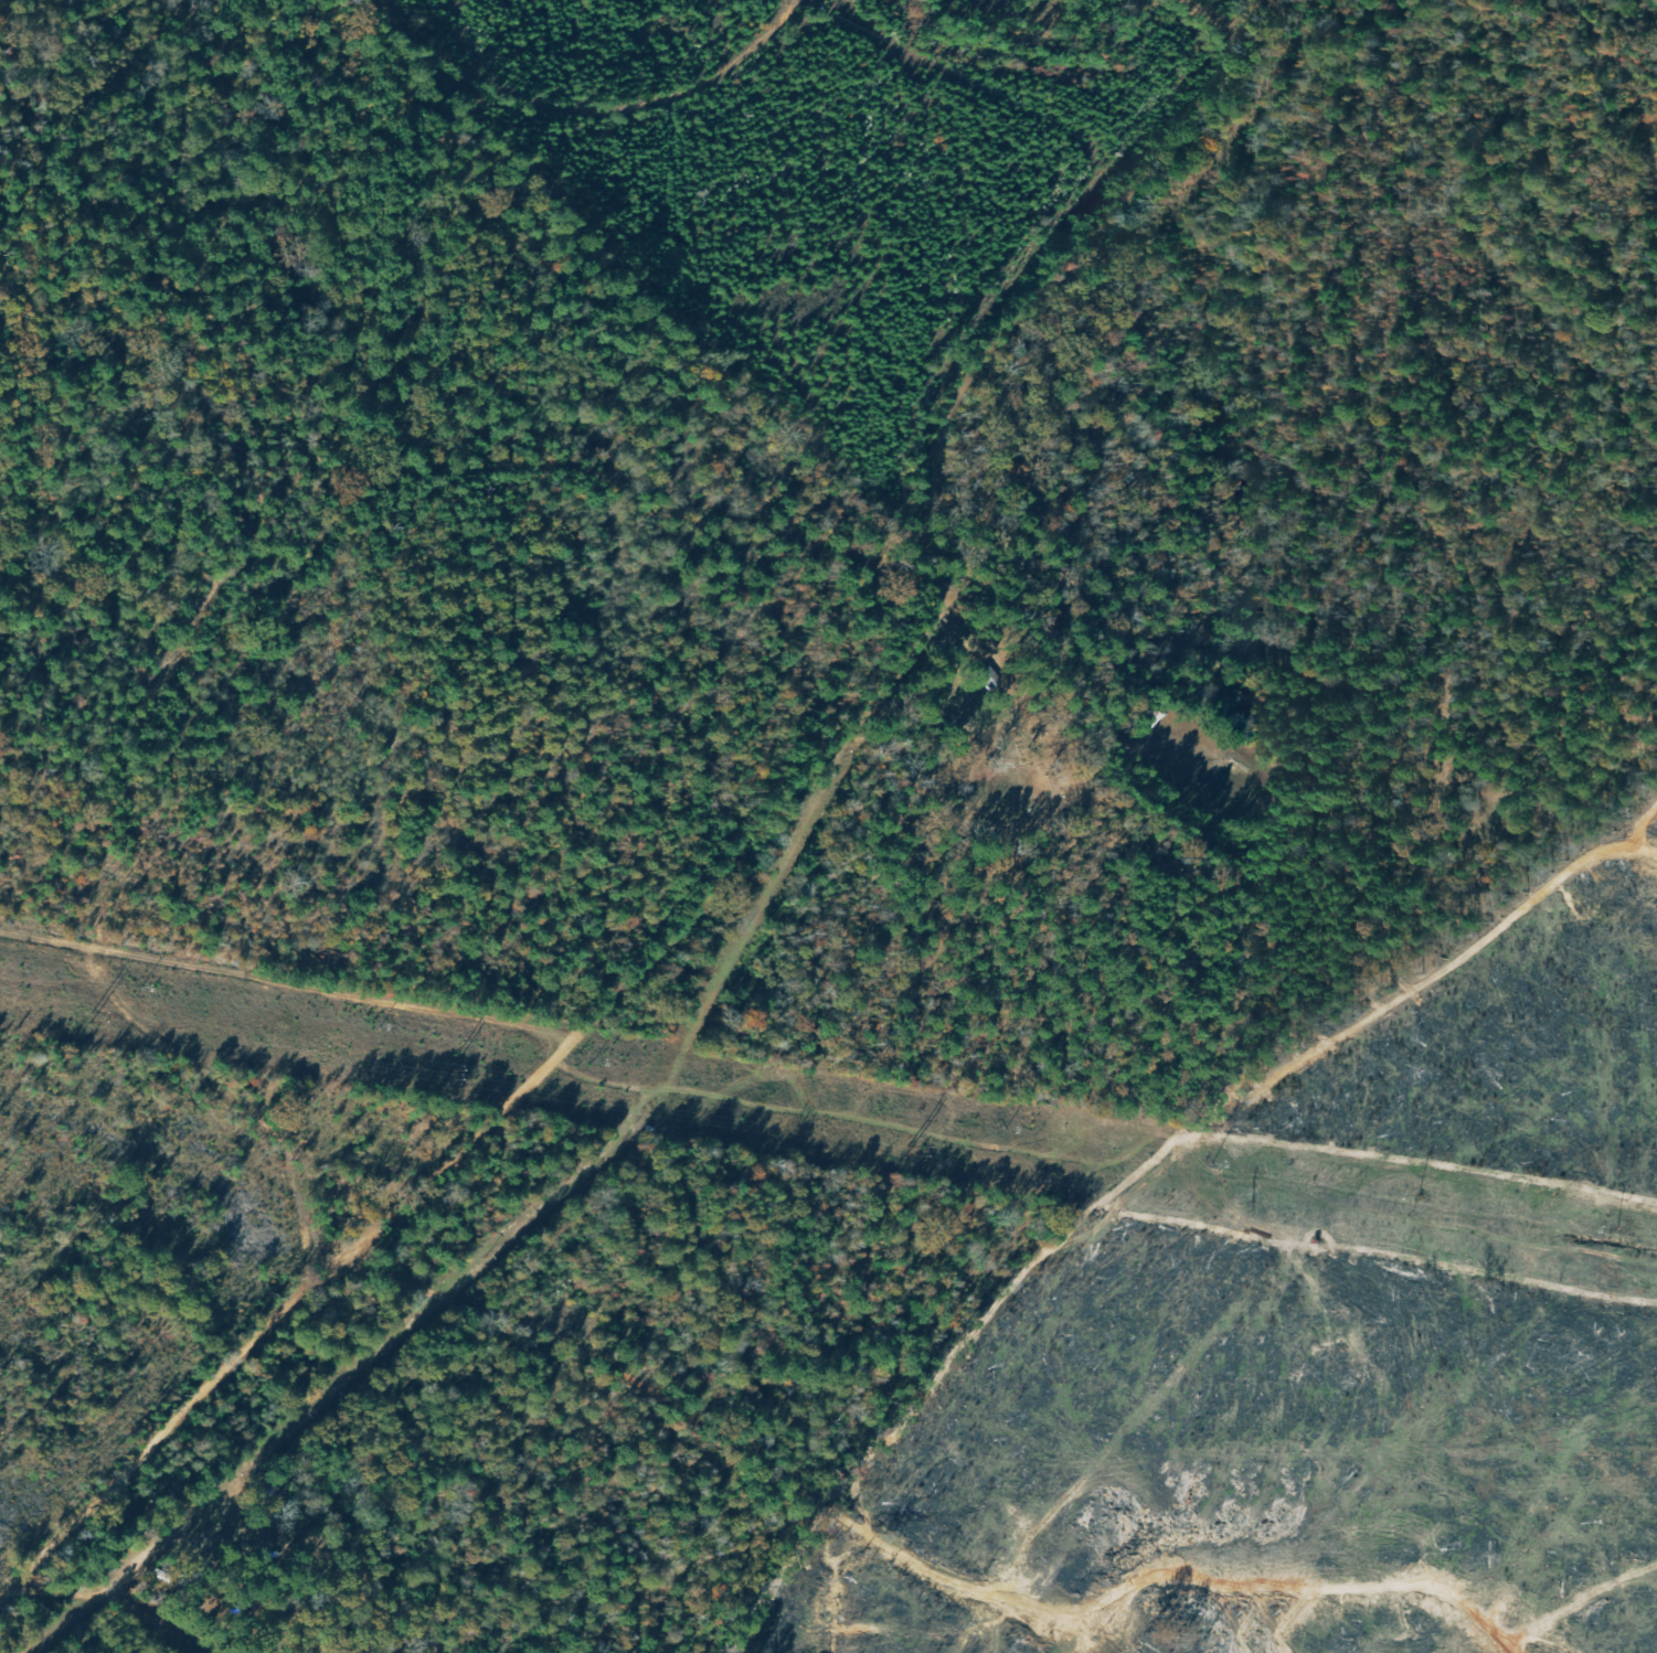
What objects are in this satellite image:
road: (490, 1118)

